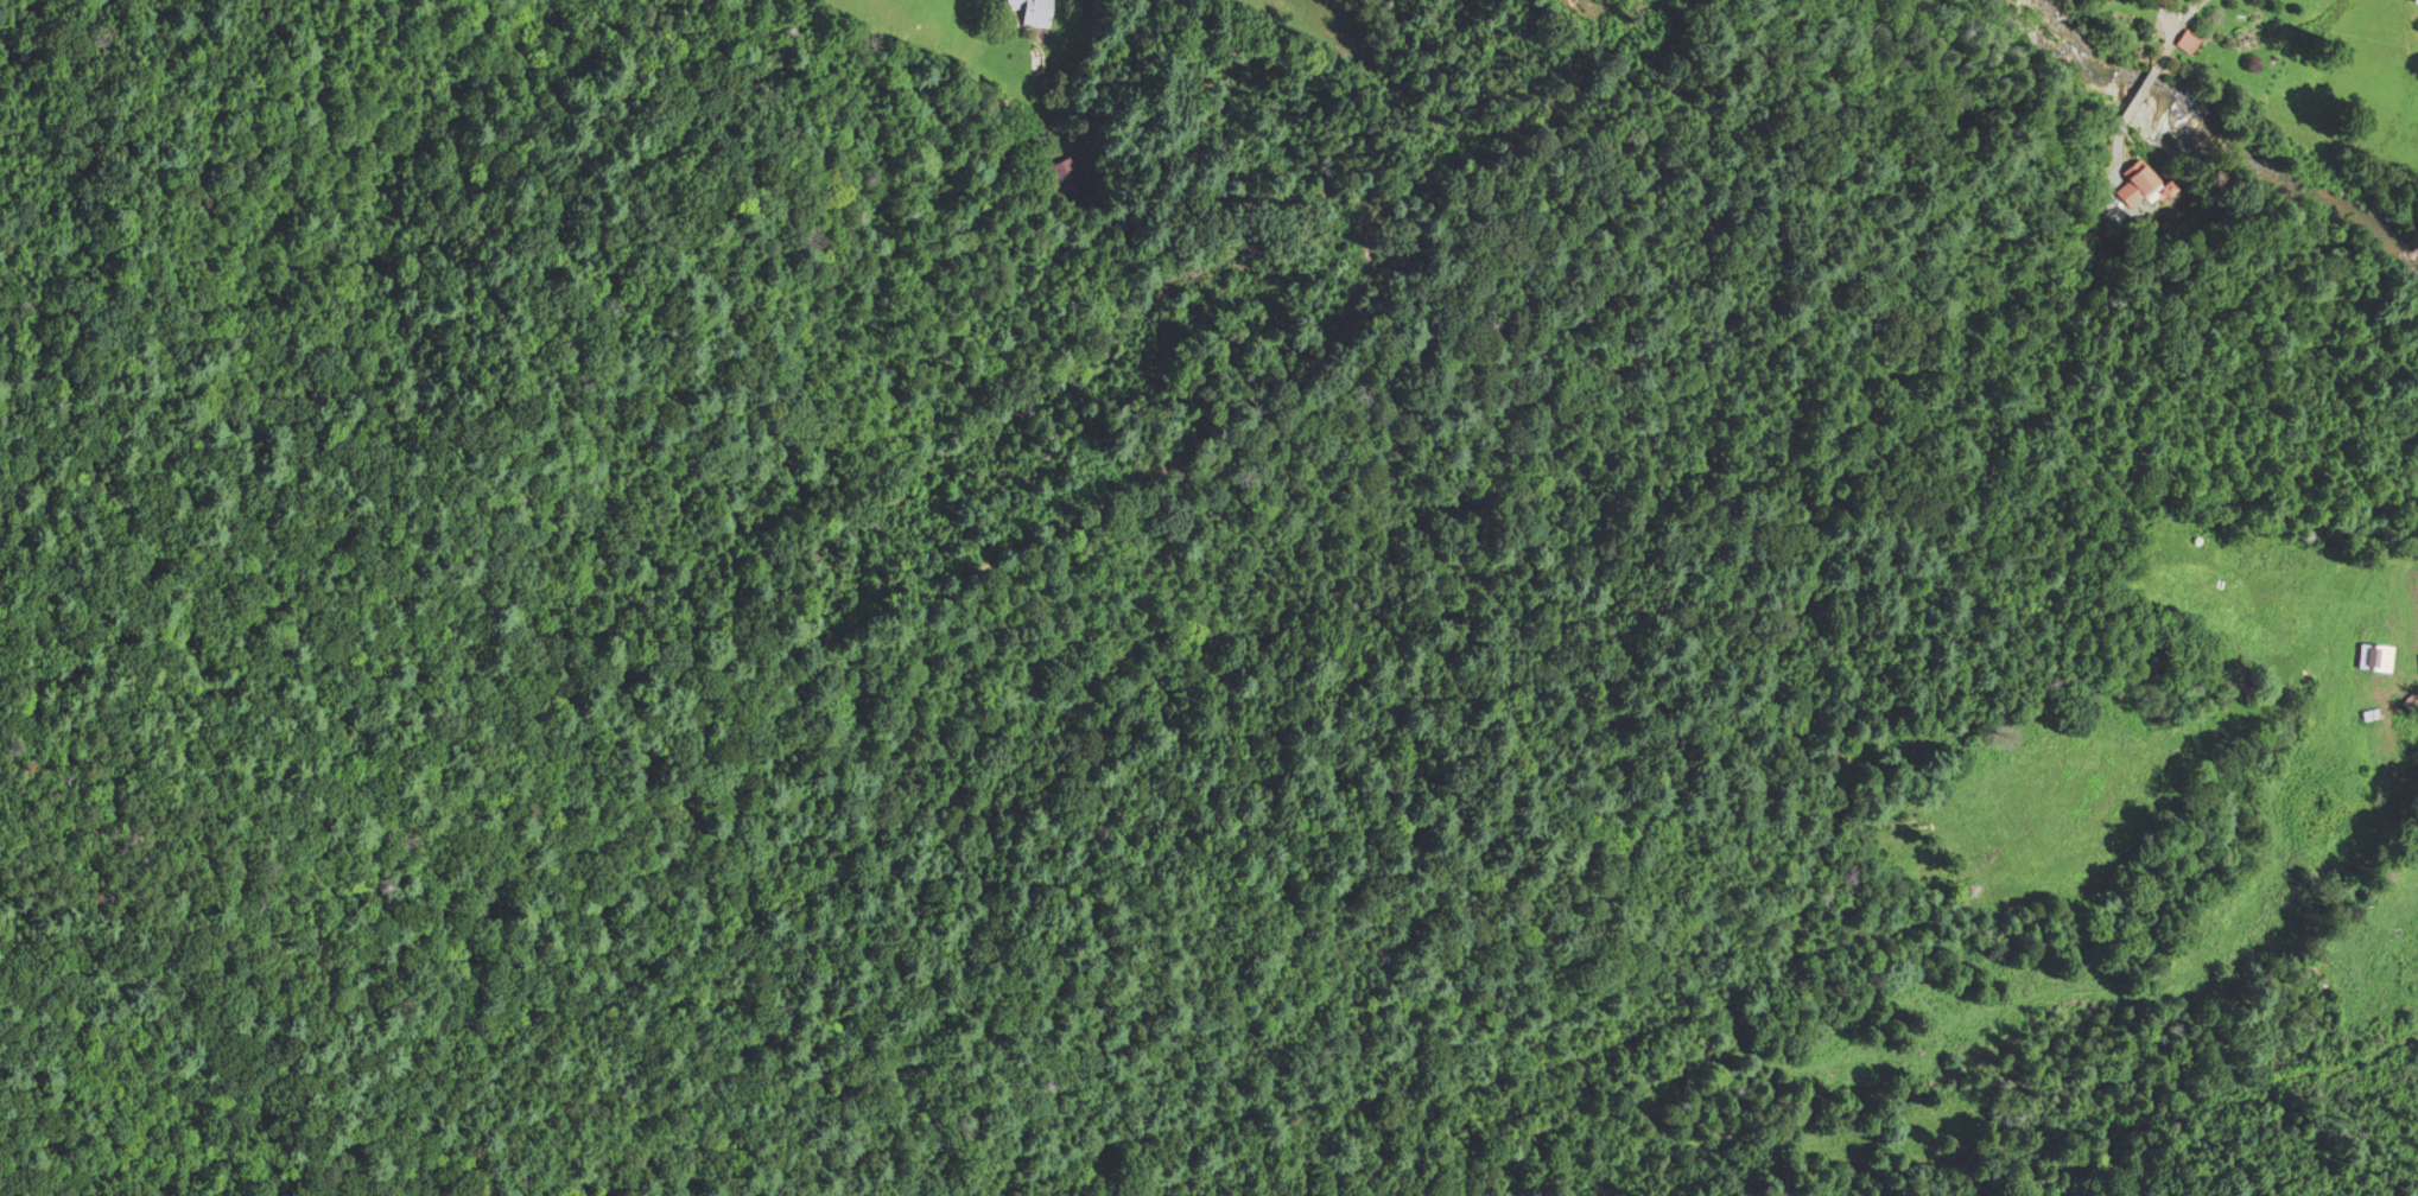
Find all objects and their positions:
building: (2411, 2)
building: (1024, 12)
road: (2176, 30)
road: (1067, 89)
road: (2137, 100)
road: (2113, 161)
building: (1066, 178)
building: (2128, 180)
road: (2316, 621)
building: (2369, 660)

